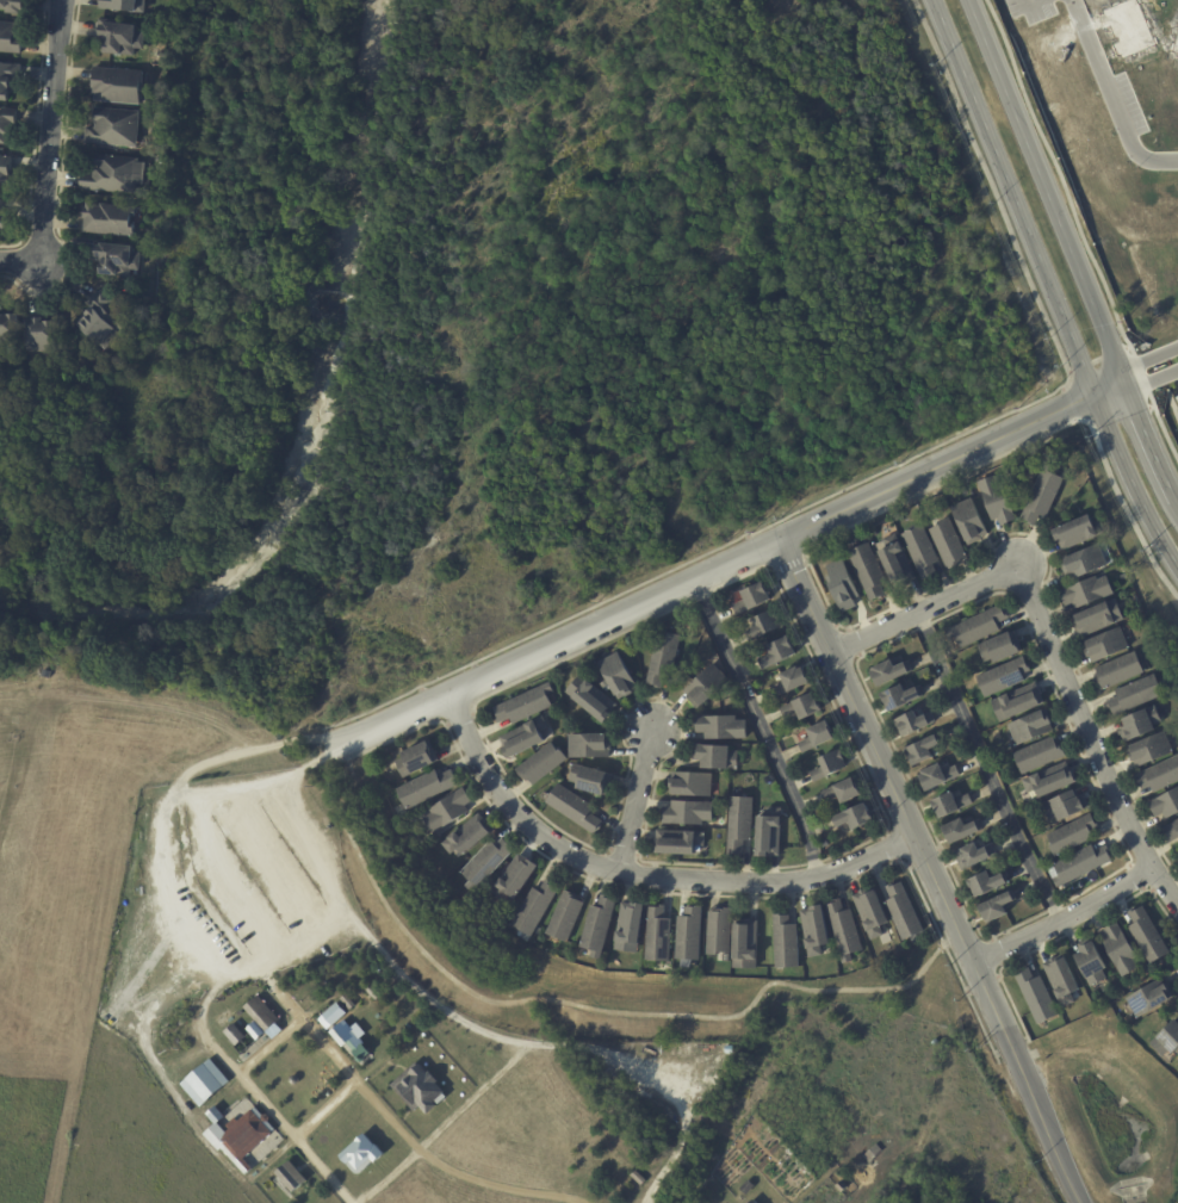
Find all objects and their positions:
road: (1028, 0)
building: (124, 6)
building: (12, 7)
building: (1128, 26)
building: (120, 38)
building: (10, 39)
building: (1173, 41)
building: (1053, 63)
building: (8, 80)
building: (118, 86)
road: (1111, 97)
building: (6, 125)
building: (114, 129)
road: (45, 151)
building: (5, 170)
building: (116, 176)
building: (2, 219)
building: (108, 221)
road: (1072, 254)
building: (118, 260)
road: (1047, 286)
building: (104, 322)
building: (10, 331)
building: (42, 337)
road: (1149, 366)
road: (951, 461)
building: (966, 492)
building: (1044, 496)
building: (998, 501)
building: (971, 521)
building: (1081, 532)
building: (950, 544)
building: (923, 550)
building: (897, 562)
building: (1086, 563)
building: (872, 571)
building: (1124, 578)
building: (843, 587)
building: (1089, 593)
building: (754, 599)
building: (1099, 619)
building: (767, 626)
building: (979, 627)
building: (904, 638)
building: (1109, 645)
road: (556, 646)
building: (1002, 649)
road: (1052, 649)
building: (781, 652)
building: (665, 658)
building: (743, 659)
building: (1122, 671)
building: (891, 672)
building: (620, 676)
building: (1005, 677)
building: (793, 682)
building: (606, 686)
building: (708, 687)
building: (1139, 695)
building: (594, 699)
building: (901, 699)
road: (131, 700)
building: (1018, 703)
building: (527, 705)
building: (805, 707)
building: (914, 724)
building: (1143, 724)
building: (723, 727)
building: (1034, 727)
road: (762, 728)
building: (820, 737)
building: (525, 738)
building: (590, 745)
building: (925, 751)
building: (1153, 751)
building: (1040, 756)
building: (718, 757)
building: (420, 759)
building: (542, 764)
building: (830, 765)
road: (985, 769)
building: (1160, 776)
building: (938, 777)
building: (591, 780)
building: (1052, 782)
building: (694, 785)
building: (429, 788)
building: (845, 792)
road: (637, 800)
building: (951, 805)
building: (1068, 806)
building: (1166, 806)
building: (576, 810)
building: (449, 811)
building: (688, 813)
building: (402, 814)
building: (858, 818)
building: (742, 825)
building: (962, 831)
building: (770, 833)
building: (1173, 833)
building: (1073, 836)
building: (470, 837)
building: (680, 843)
building: (826, 844)
building: (975, 856)
building: (489, 863)
building: (1081, 866)
road: (641, 874)
road: (929, 874)
parking lot: (234, 879)
building: (516, 880)
building: (988, 885)
building: (480, 906)
building: (998, 907)
building: (535, 910)
building: (873, 912)
building: (905, 912)
building: (568, 917)
road: (1061, 920)
building: (600, 926)
building: (632, 928)
building: (817, 931)
building: (845, 931)
building: (721, 932)
road: (231, 934)
building: (1149, 936)
building: (661, 937)
building: (692, 937)
building: (787, 943)
building: (746, 944)
building: (1123, 951)
building: (1092, 962)
building: (1064, 981)
building: (374, 991)
building: (1038, 997)
building: (1151, 999)
building: (348, 1003)
road: (578, 1010)
building: (261, 1013)
building: (333, 1015)
building: (223, 1019)
road: (305, 1022)
road: (510, 1033)
building: (234, 1034)
building: (1167, 1040)
road: (269, 1046)
building: (360, 1053)
park: (470, 1061)
building: (193, 1069)
building: (204, 1081)
road: (244, 1081)
building: (420, 1090)
road: (702, 1104)
road: (325, 1111)
road: (929, 1118)
building: (236, 1130)
building: (870, 1153)
building: (356, 1155)
building: (291, 1177)
building: (637, 1178)
building: (628, 1188)
building: (842, 1188)
building: (746, 1189)
road: (647, 1202)
building: (751, 1202)

